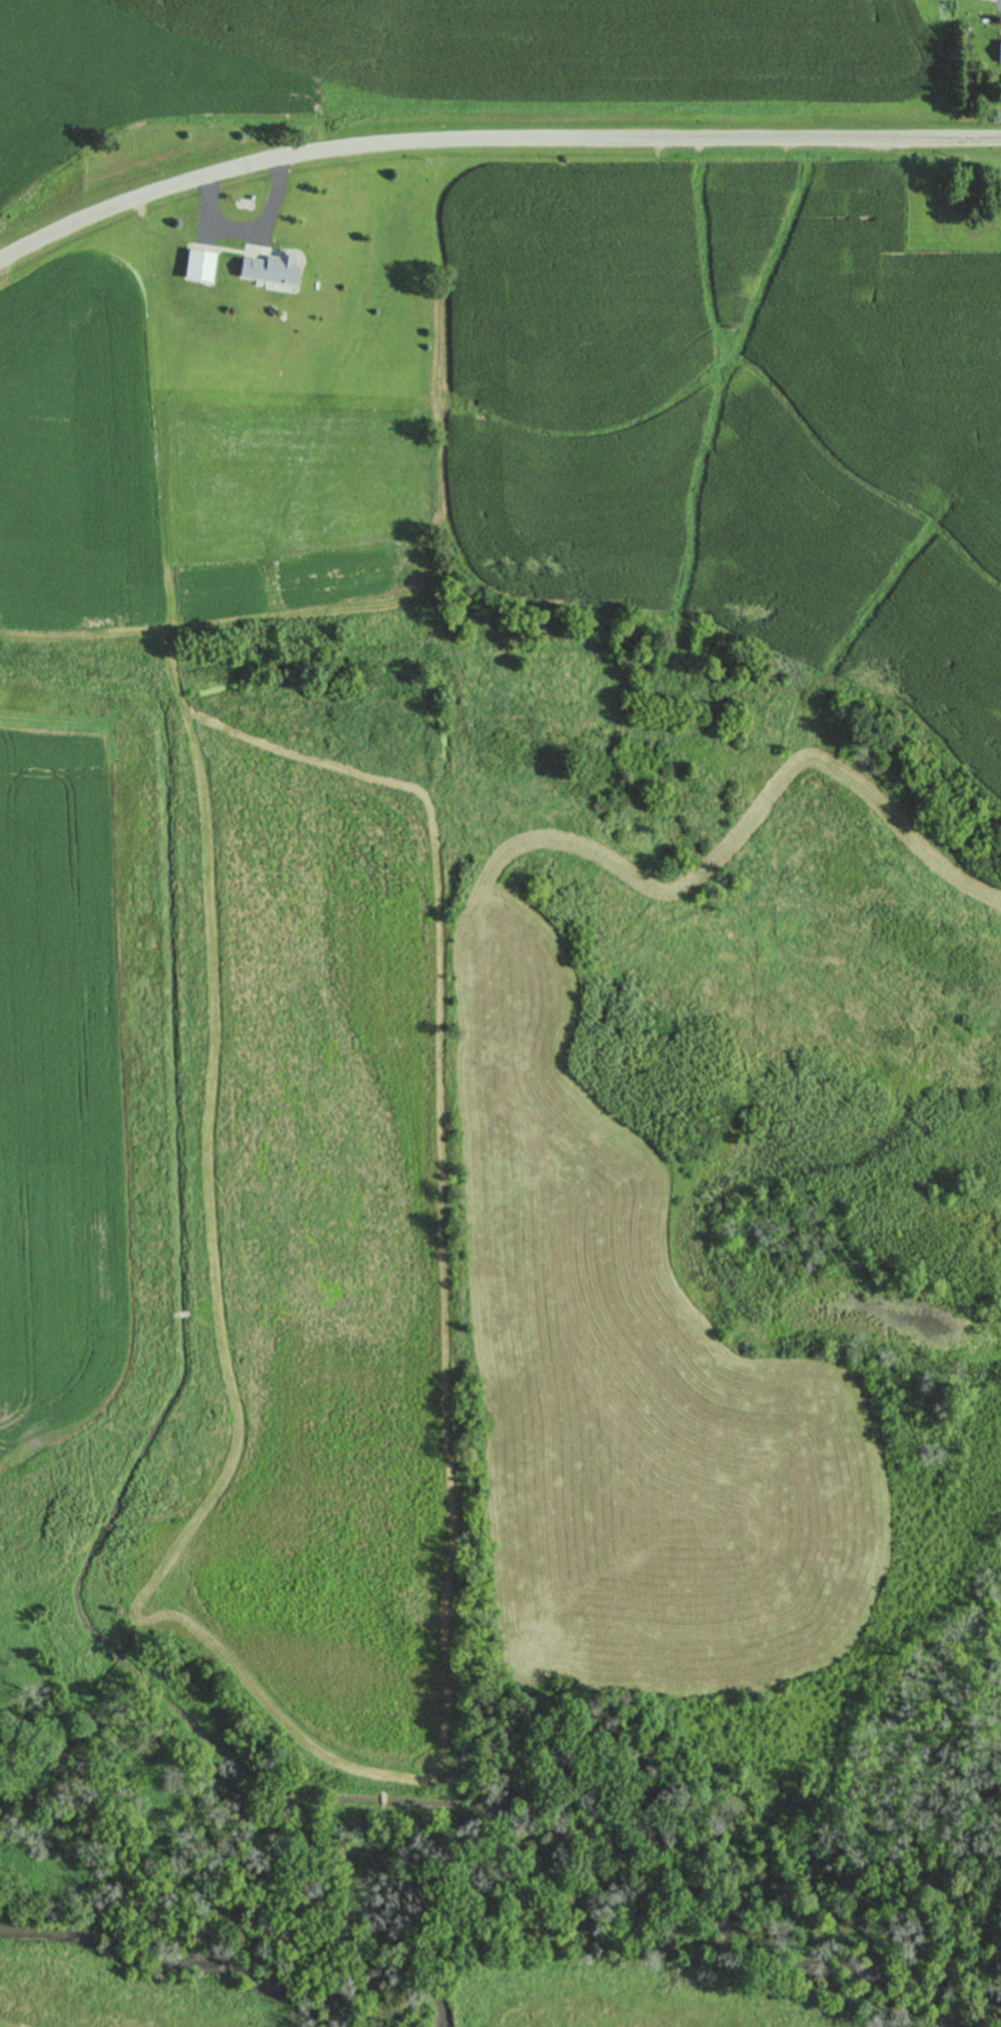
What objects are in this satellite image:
building: (999, 48)
road: (490, 137)
park: (951, 195)
road: (248, 229)
building: (200, 263)
building: (272, 266)
river: (641, 1787)
river: (187, 1965)

